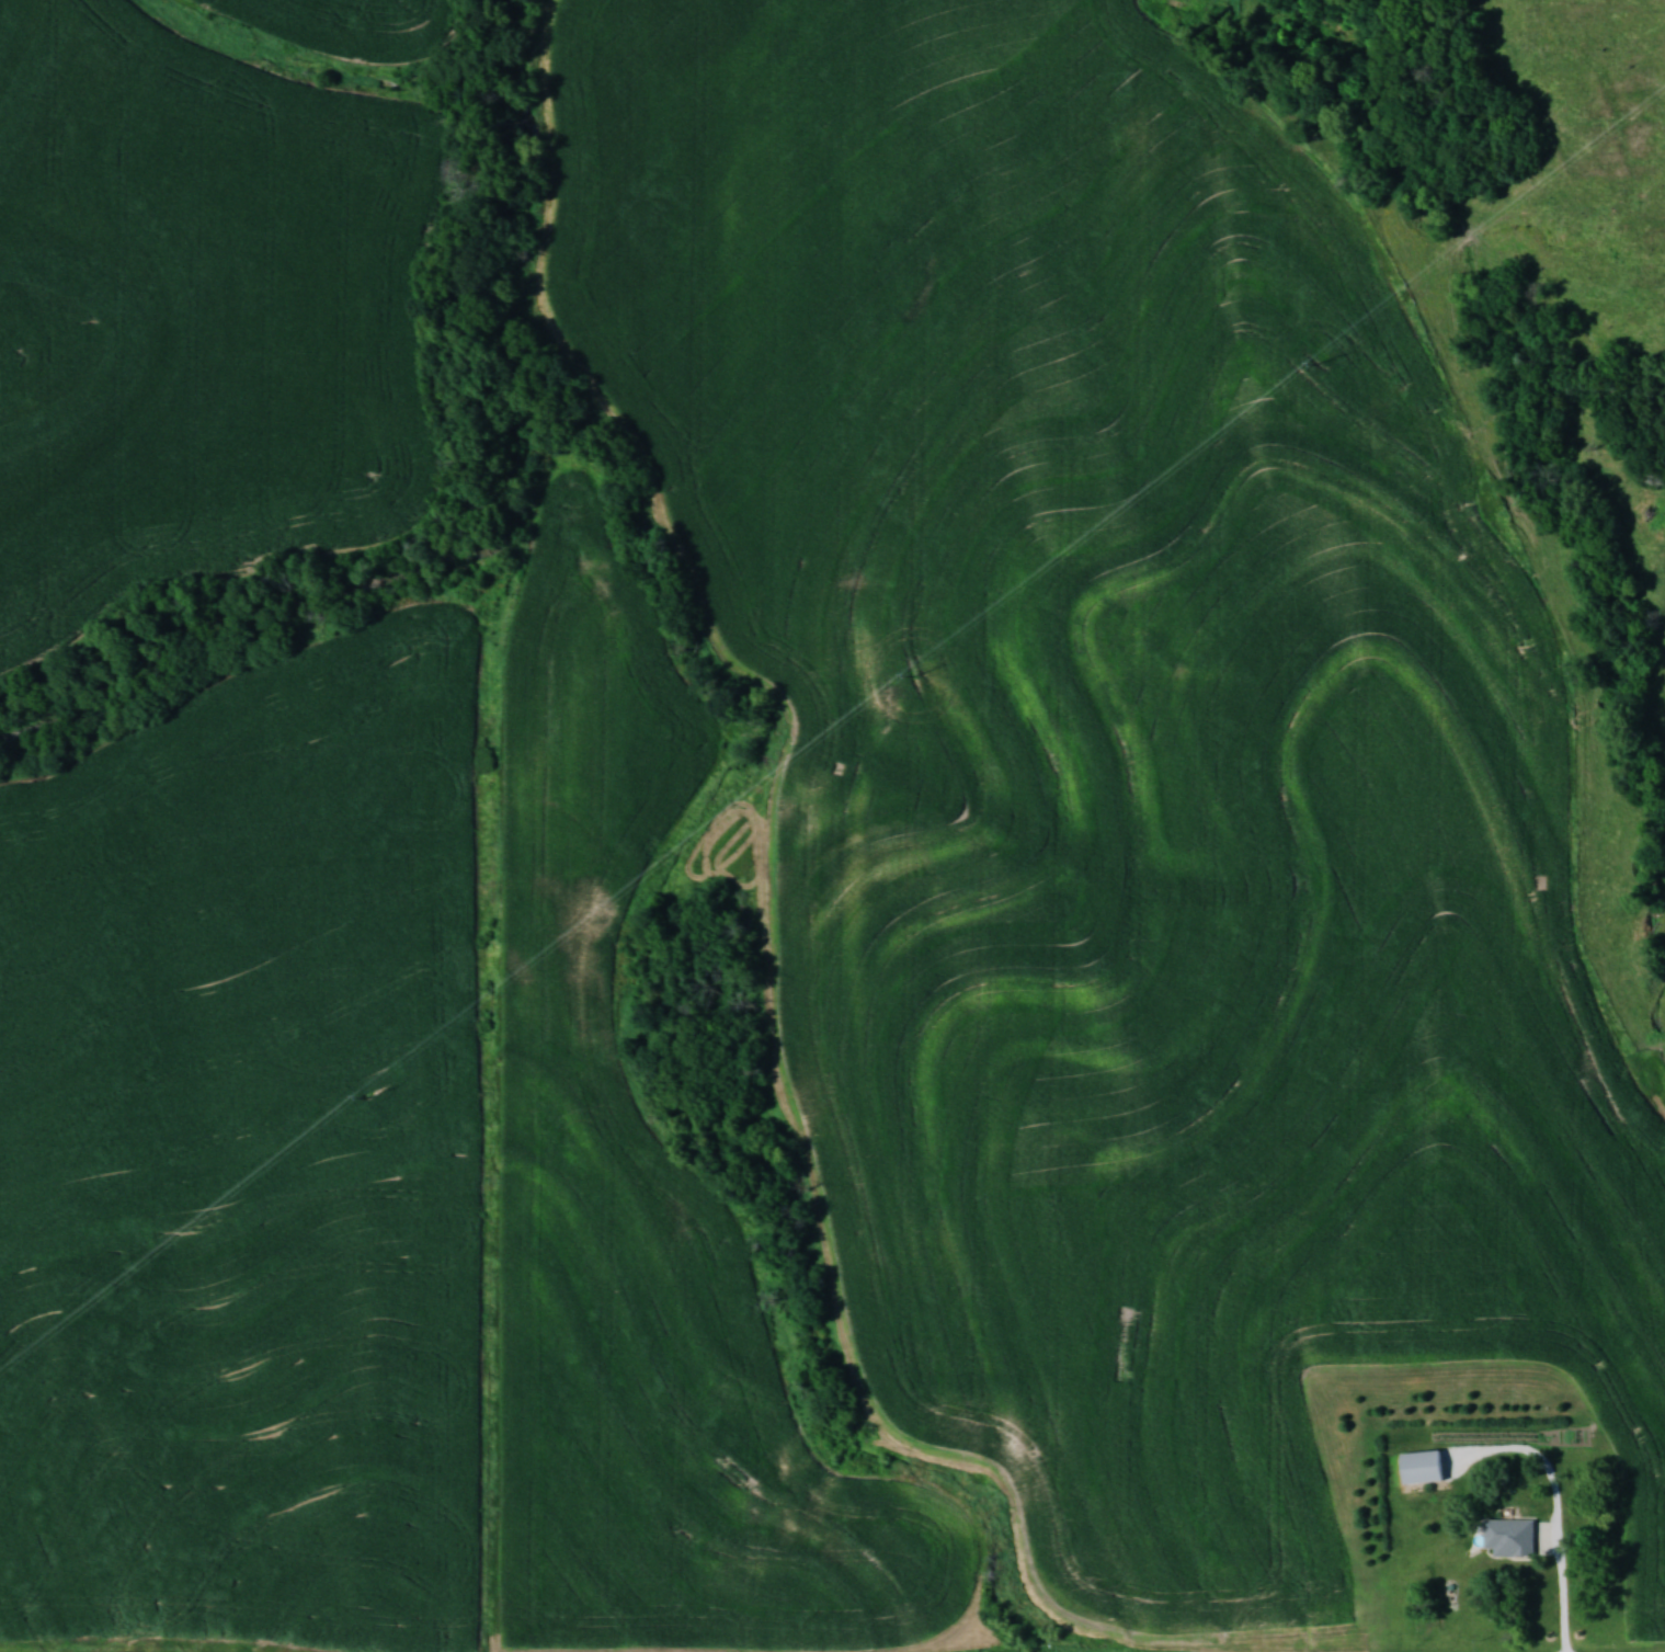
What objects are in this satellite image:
building: (1424, 1467)
building: (1510, 1537)
road: (1567, 1588)

